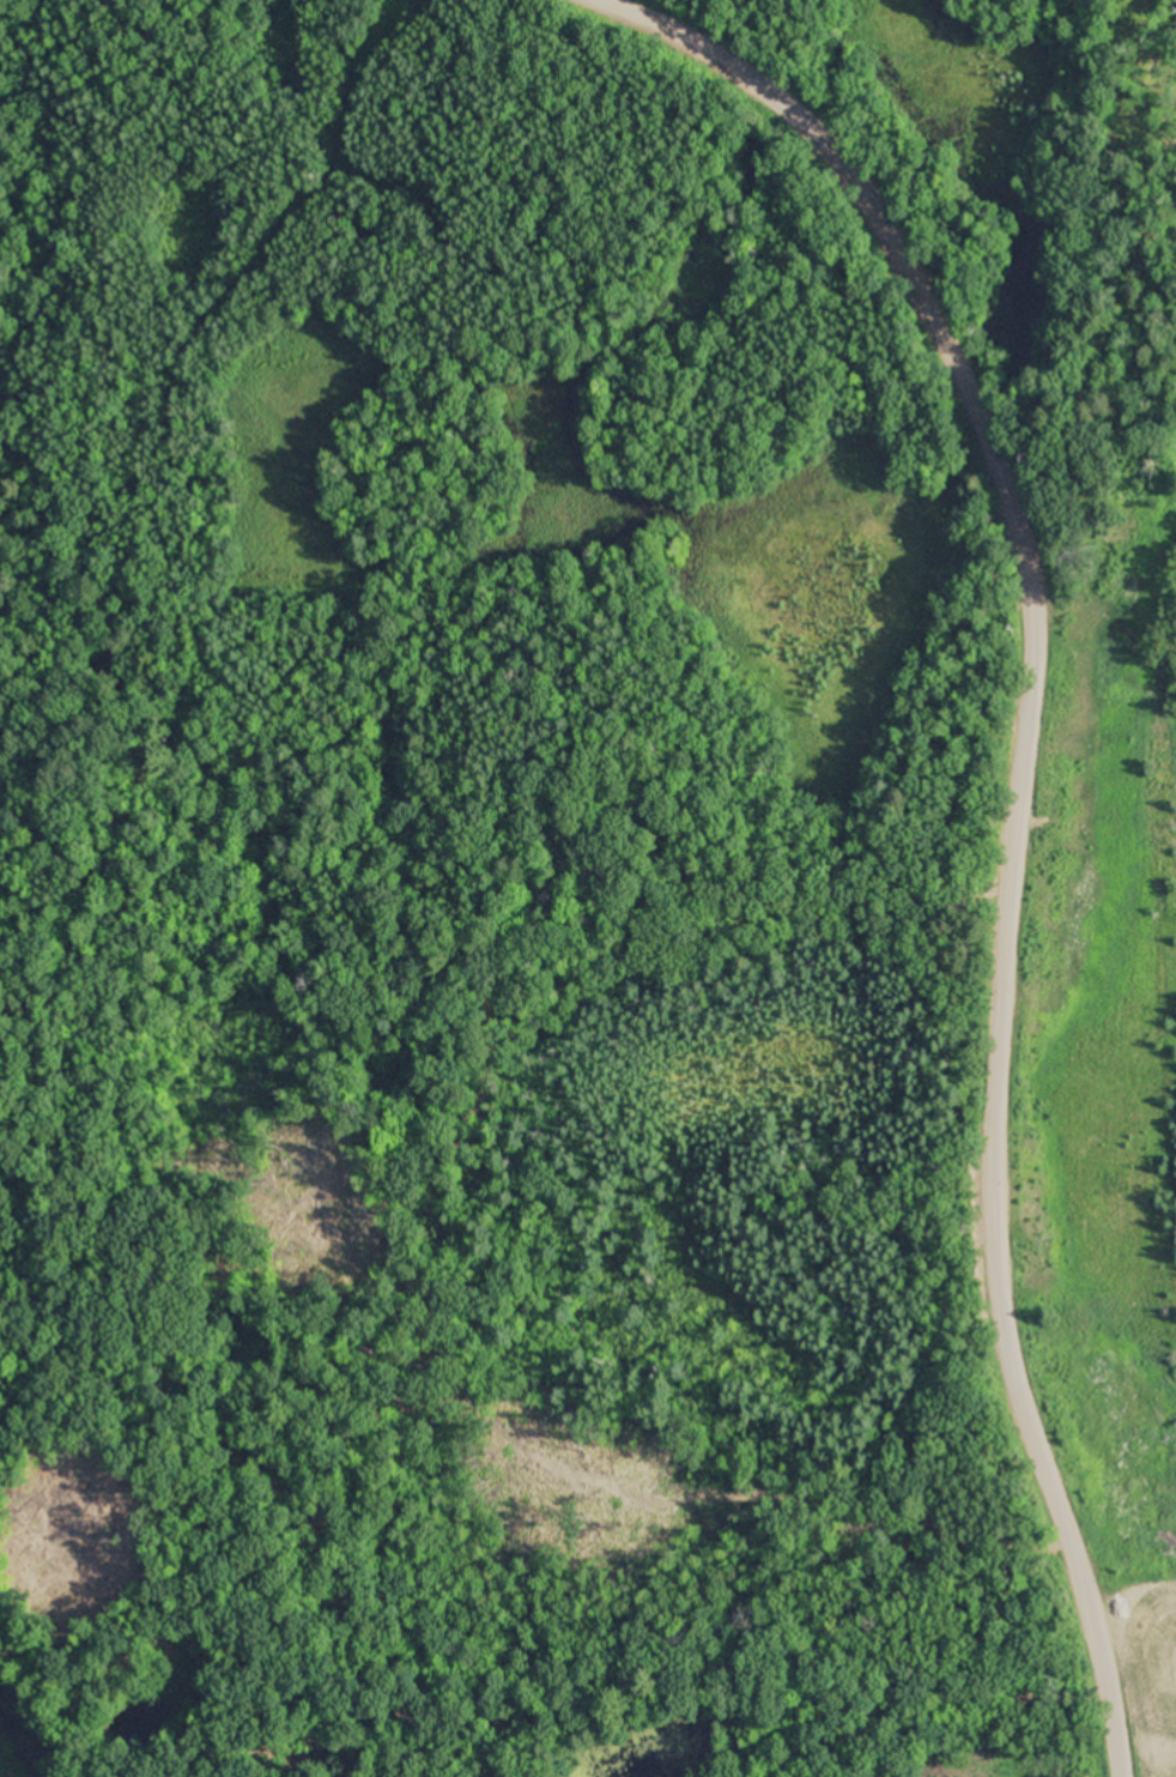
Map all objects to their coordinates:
road: (963, 375)
road: (425, 933)
road: (1013, 1348)

